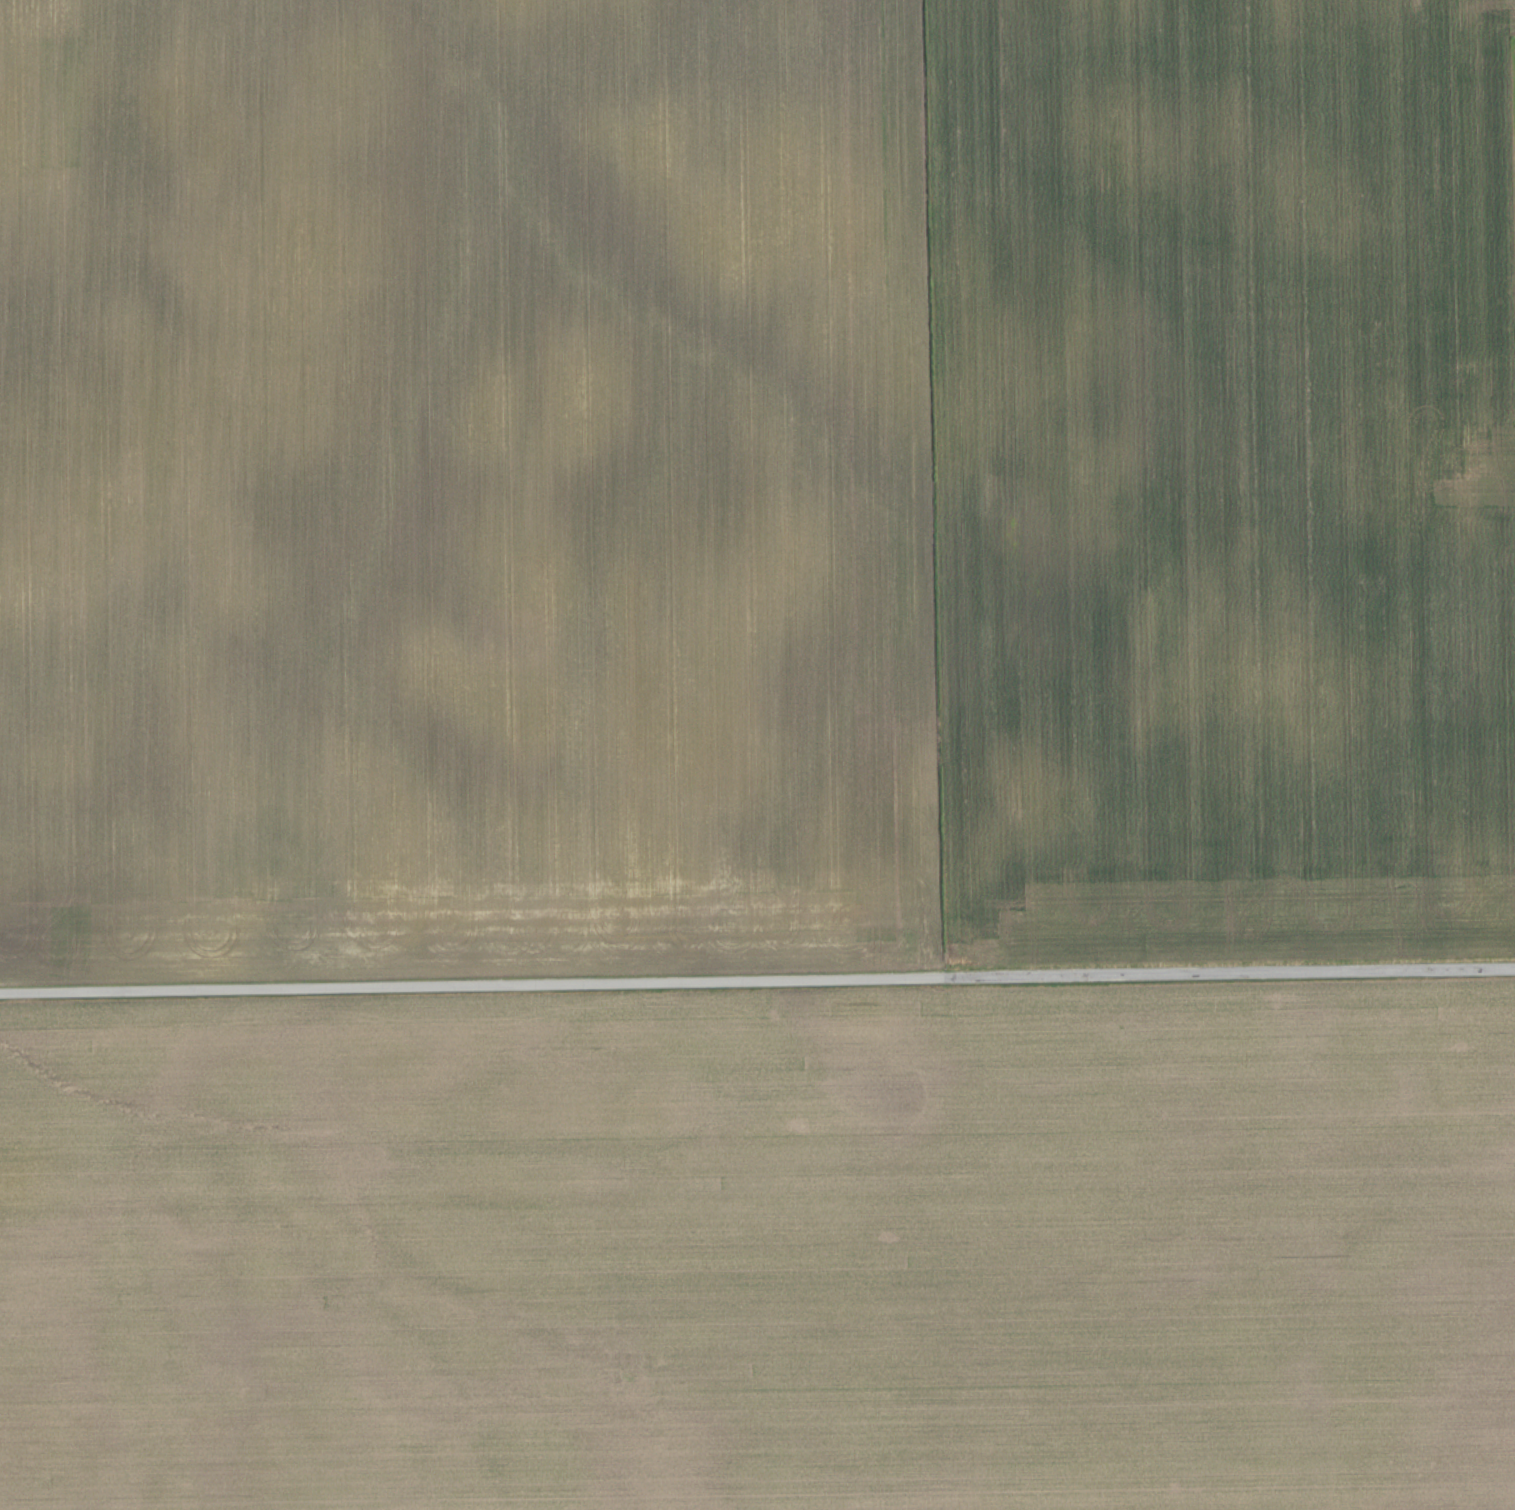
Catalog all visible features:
road: (1229, 970)
road: (472, 983)

